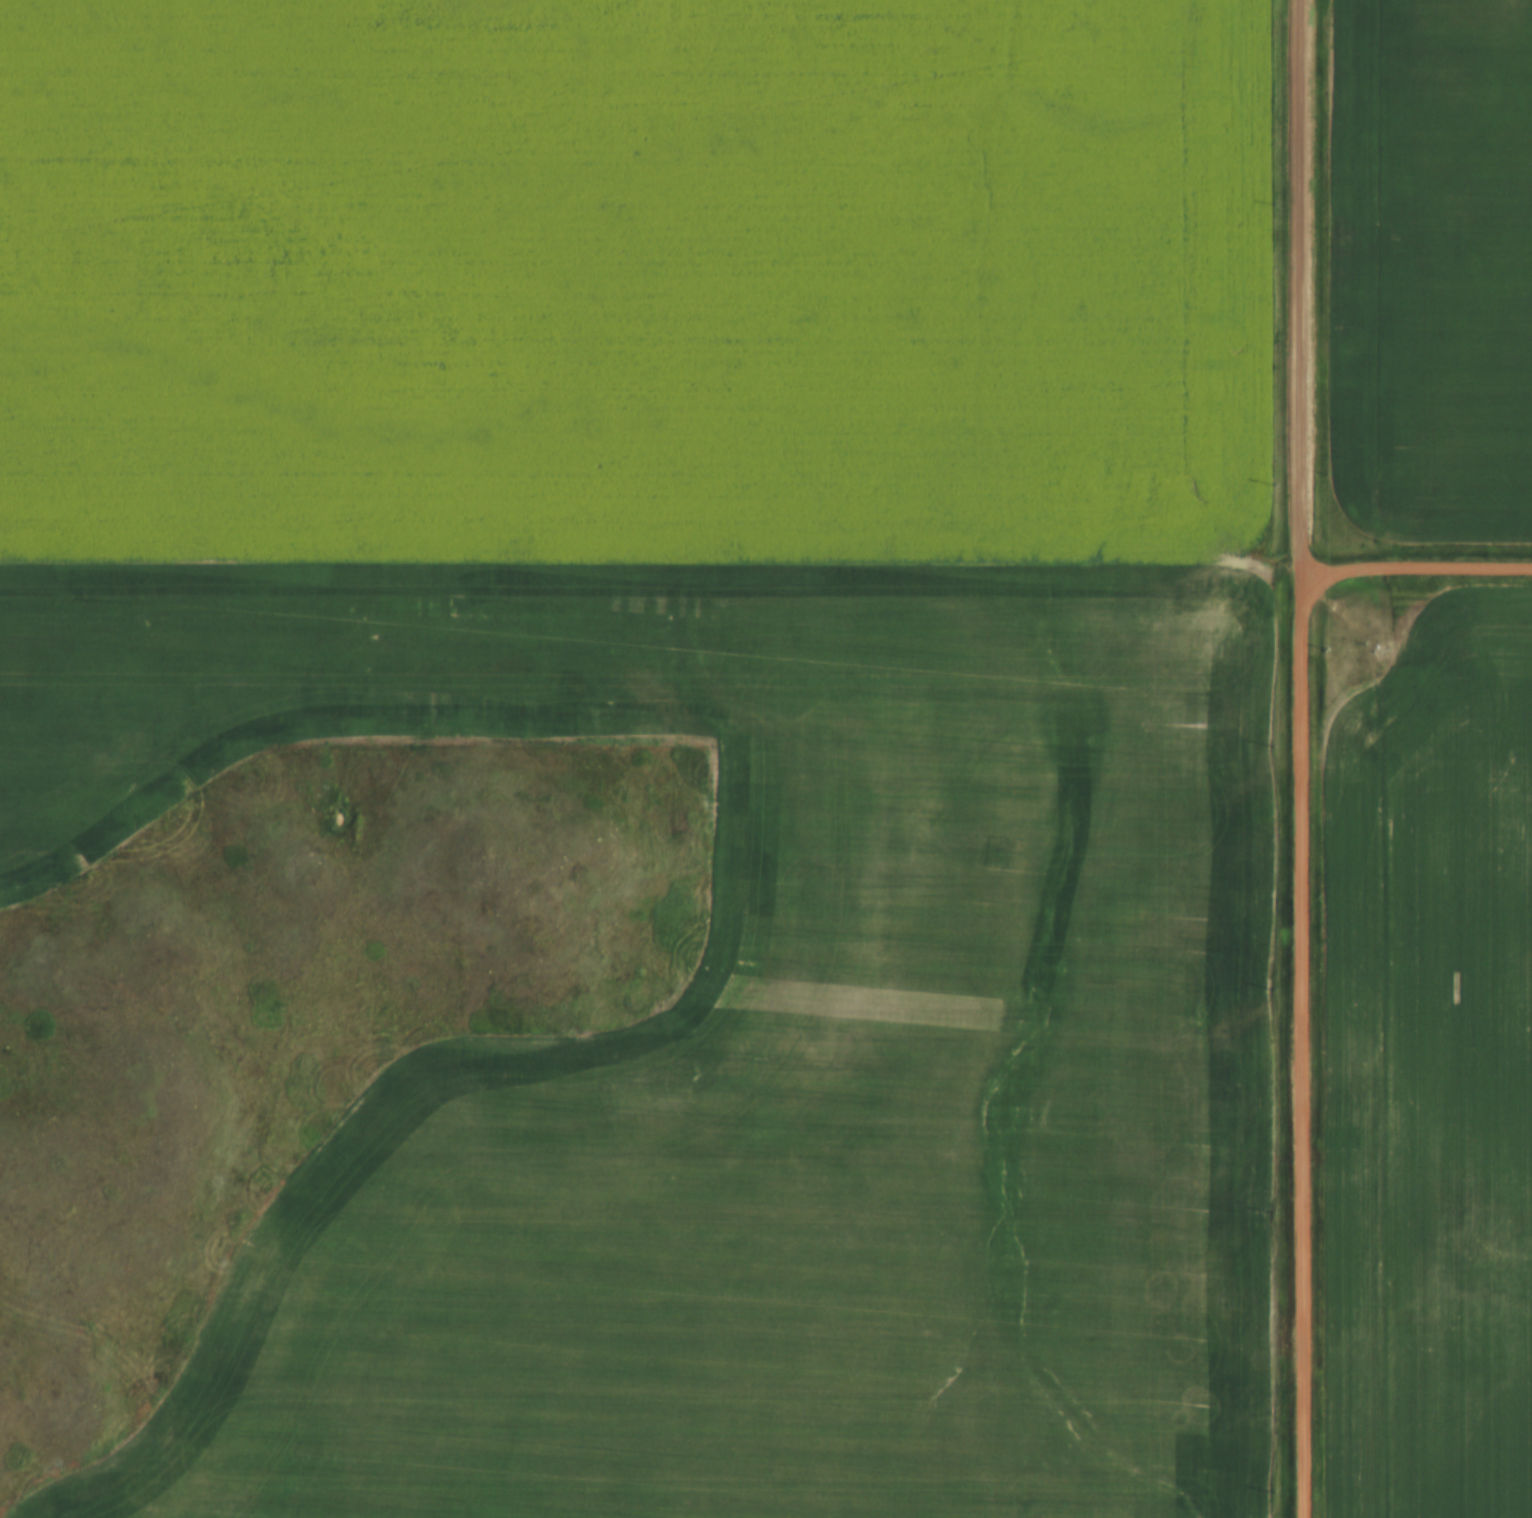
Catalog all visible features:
road: (649, 546)
road: (1414, 568)
road: (1297, 759)

